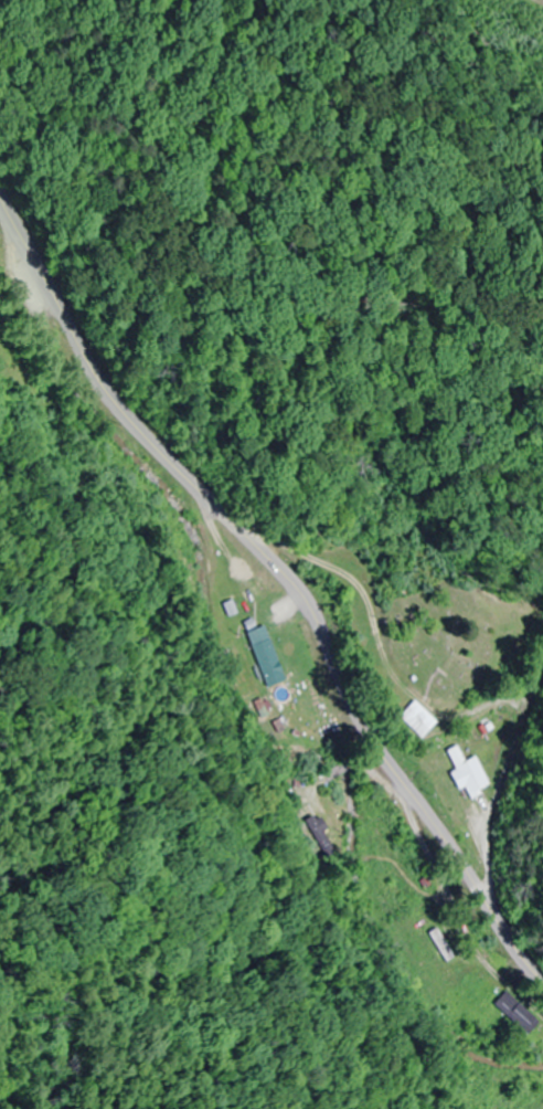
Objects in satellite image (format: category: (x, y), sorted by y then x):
road: (285, 574)
building: (374, 647)
building: (265, 654)
building: (412, 718)
building: (467, 773)
building: (315, 831)
building: (440, 943)
building: (514, 1012)

